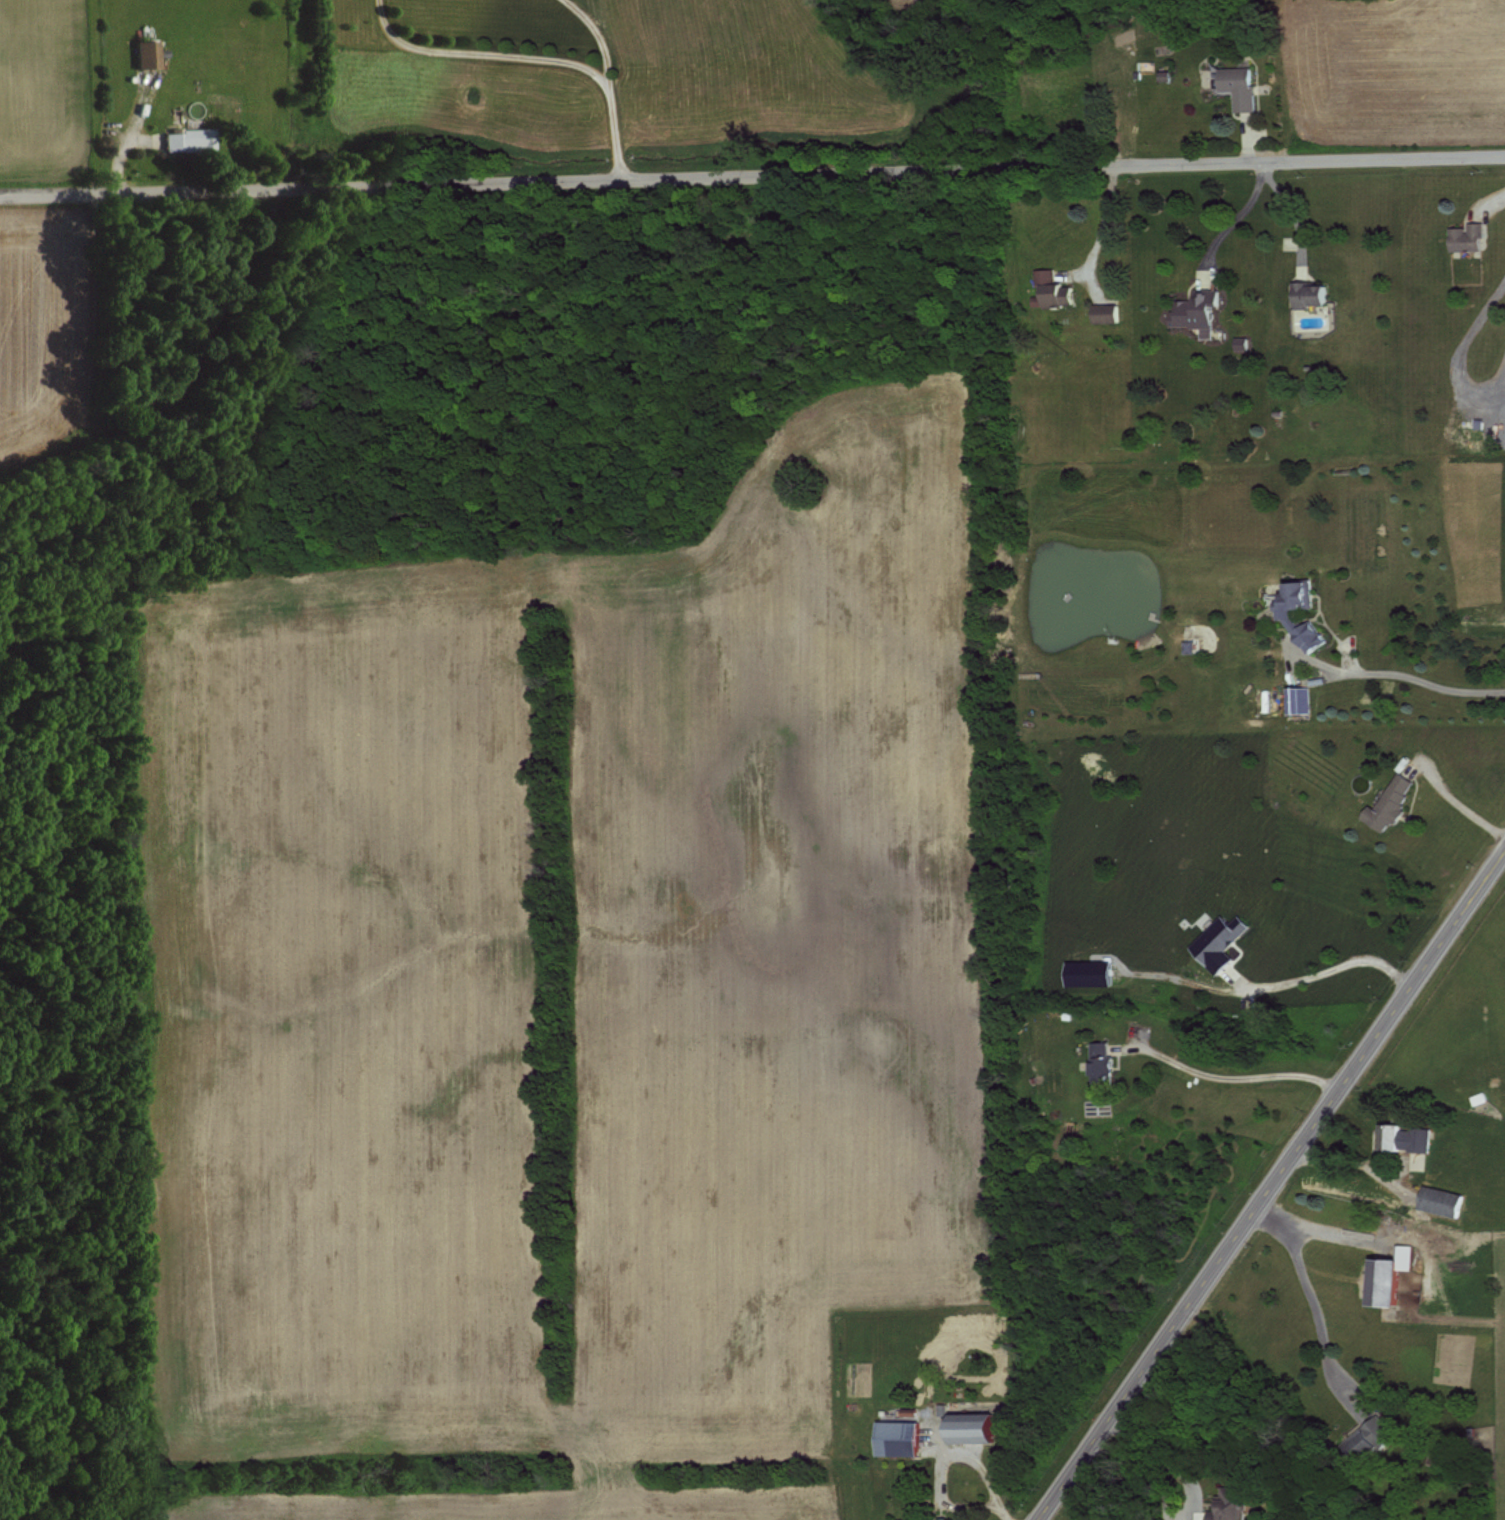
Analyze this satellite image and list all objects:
building: (142, 53)
road: (483, 53)
road: (611, 83)
building: (1236, 85)
building: (182, 139)
road: (752, 180)
road: (1293, 216)
road: (1234, 222)
road: (1100, 224)
building: (1464, 236)
building: (1050, 288)
building: (1305, 294)
building: (1194, 310)
building: (1101, 312)
road: (1461, 349)
building: (1283, 617)
road: (1413, 677)
building: (1296, 699)
building: (1387, 802)
road: (1457, 806)
building: (1216, 940)
building: (1085, 972)
road: (1279, 982)
building: (1098, 1062)
road: (1229, 1077)
building: (1385, 1135)
building: (1418, 1138)
road: (1272, 1185)
building: (1437, 1200)
building: (1385, 1274)
road: (1306, 1304)
building: (1367, 1436)
building: (893, 1437)
road: (1166, 1461)
road: (982, 1468)
building: (1224, 1506)
building: (940, 1518)

